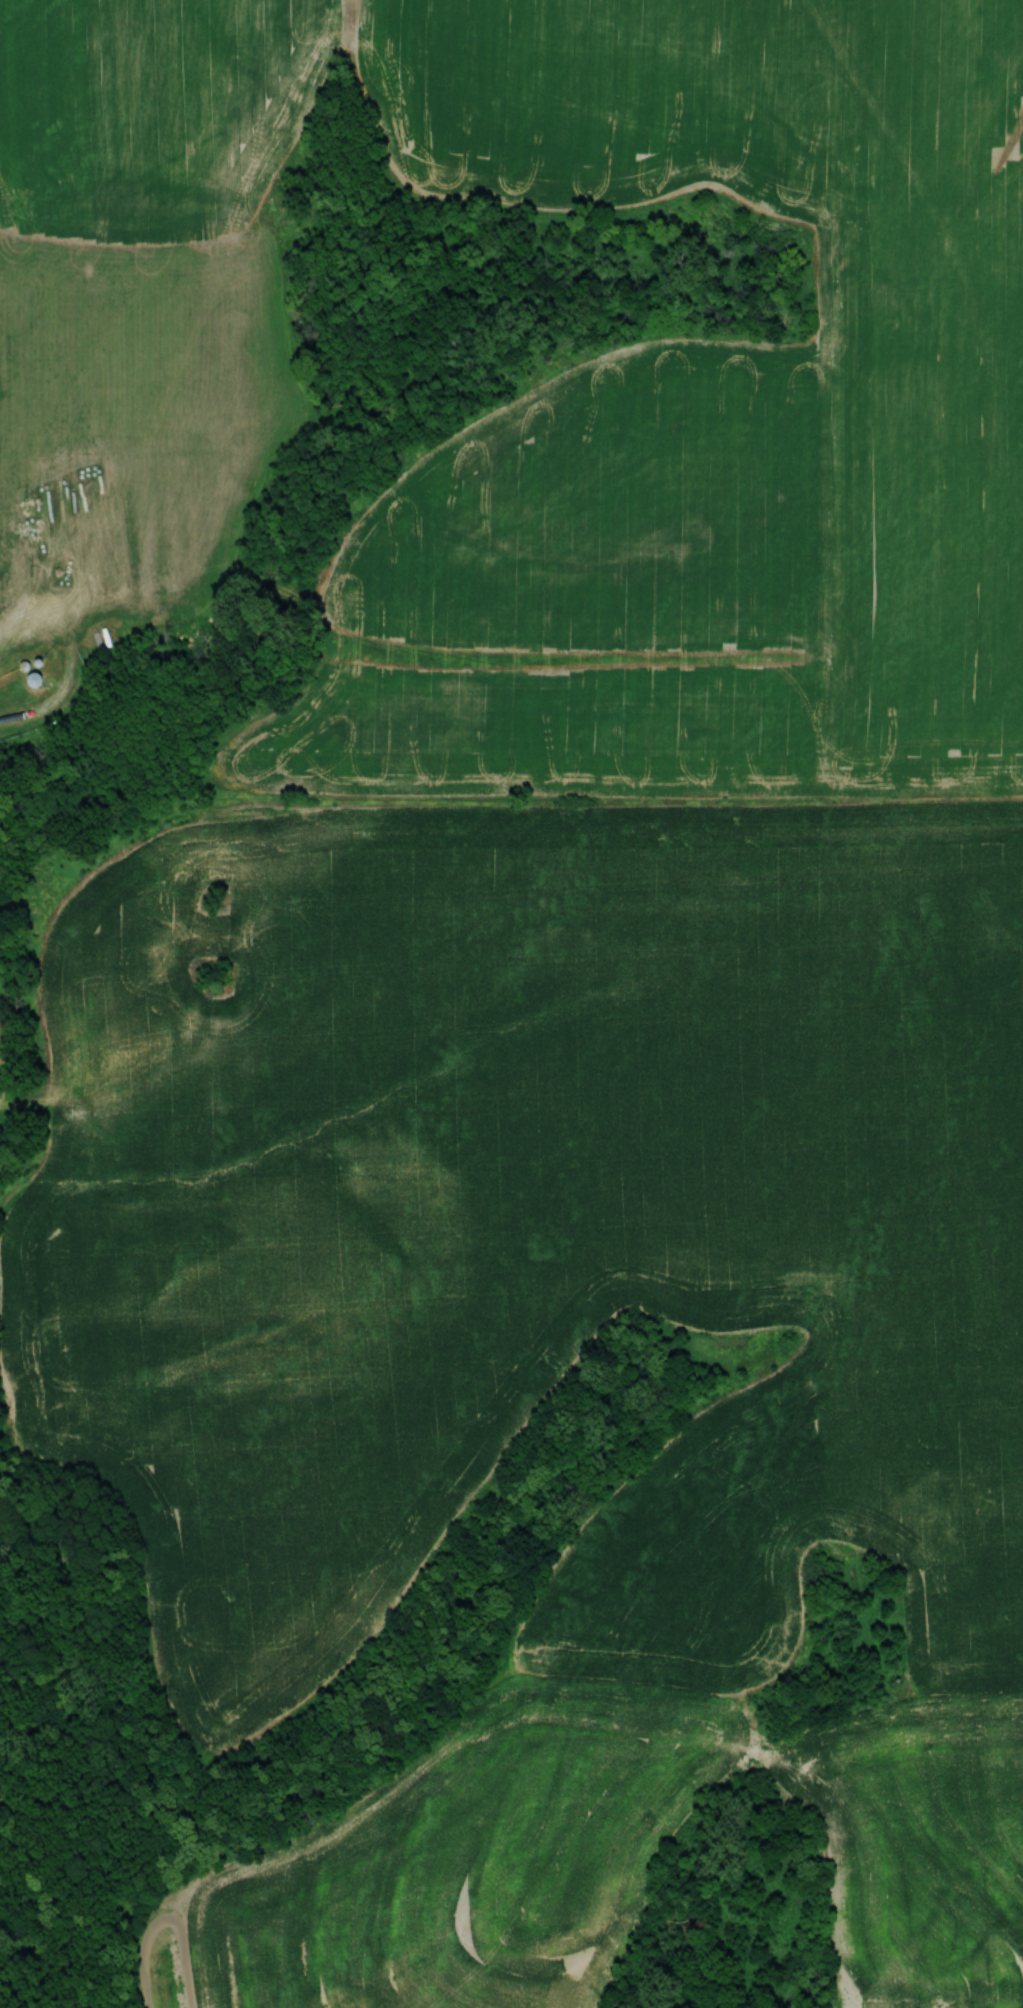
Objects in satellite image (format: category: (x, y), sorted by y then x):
building: (29, 679)

